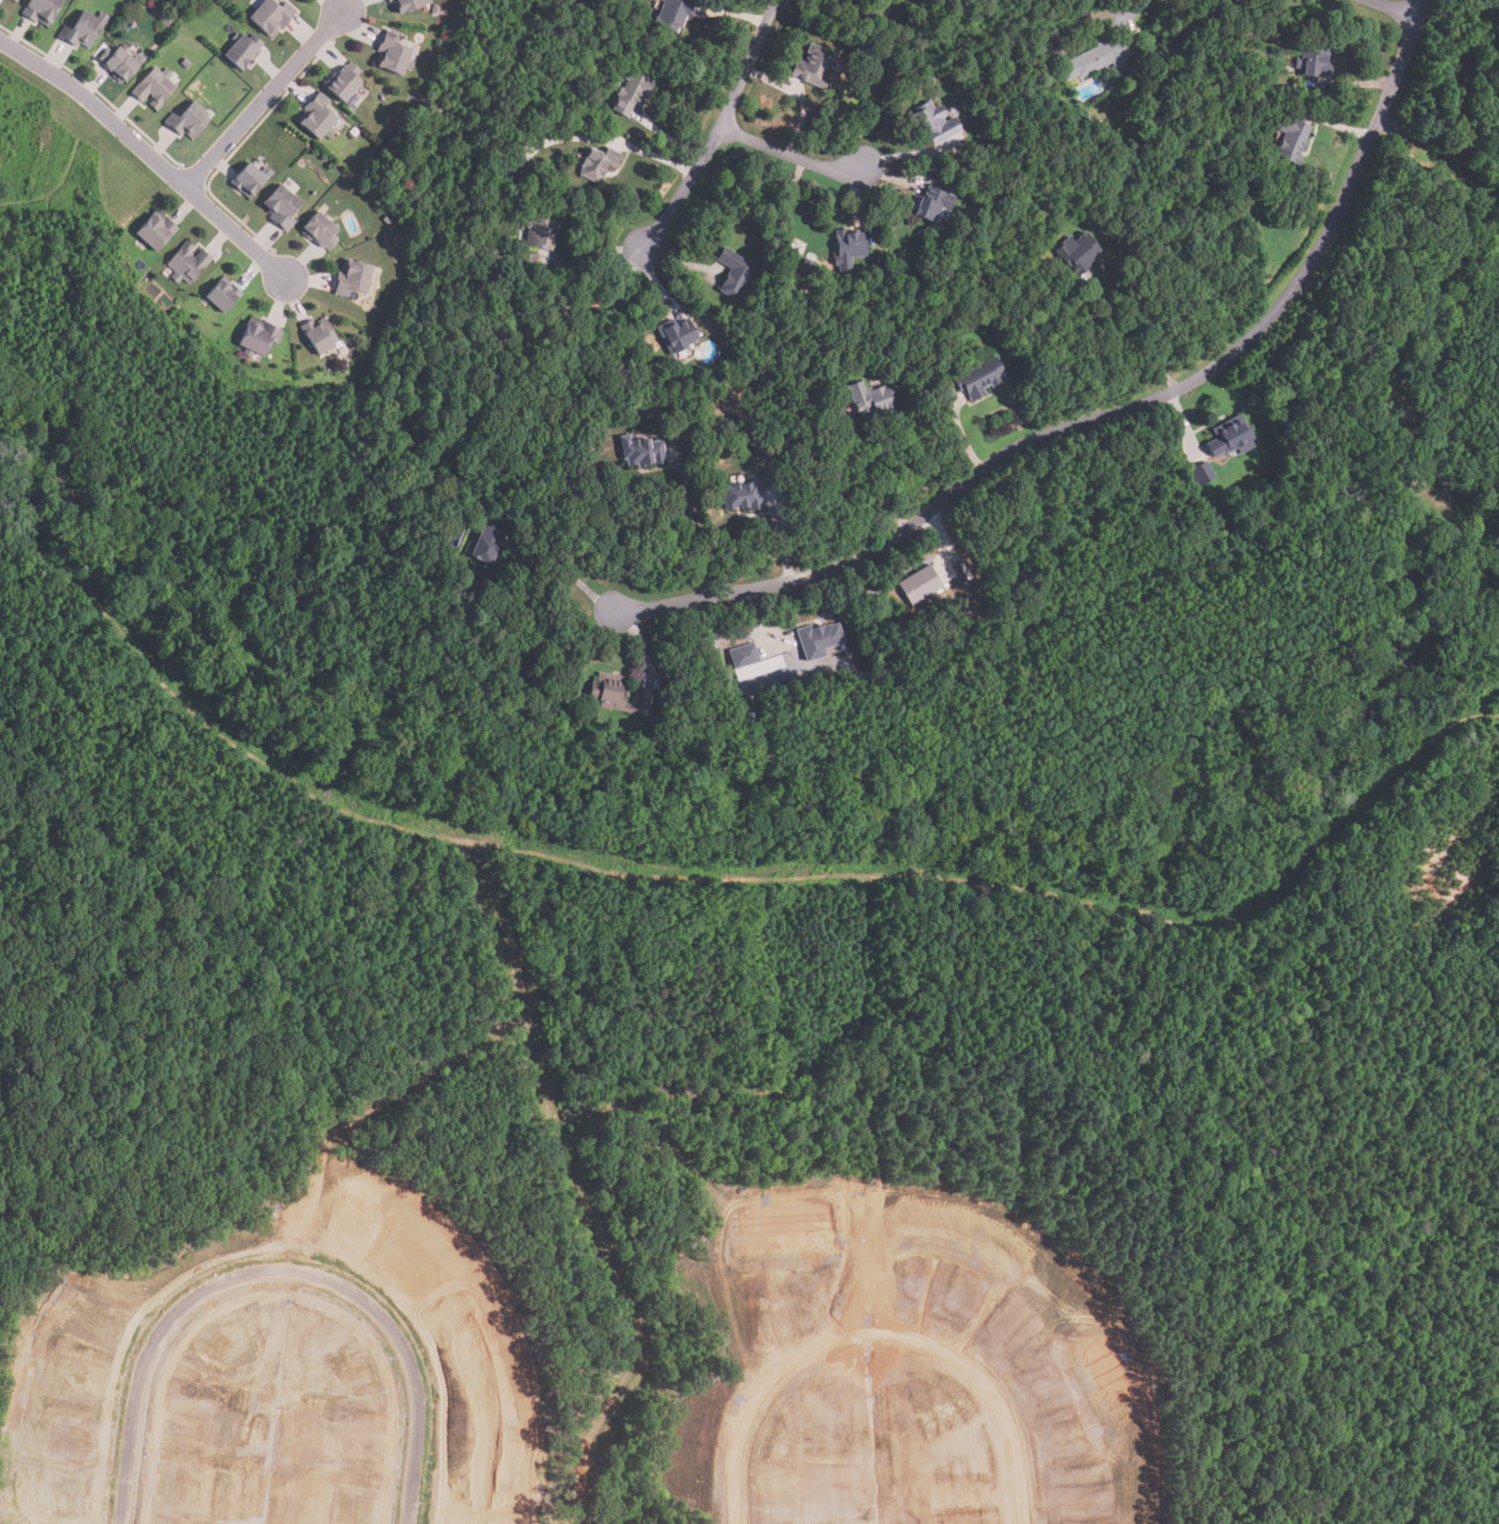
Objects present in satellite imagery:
building: (7, 1)
building: (411, 4)
building: (436, 9)
road: (1394, 9)
building: (41, 10)
building: (674, 13)
building: (272, 15)
road: (1103, 15)
building: (163, 19)
building: (83, 29)
building: (242, 49)
building: (394, 55)
building: (1097, 58)
building: (1315, 59)
building: (121, 61)
building: (185, 62)
building: (817, 66)
building: (928, 76)
building: (344, 81)
building: (154, 86)
building: (1294, 88)
building: (632, 92)
road: (263, 98)
building: (438, 109)
building: (317, 116)
building: (188, 120)
building: (934, 123)
road: (716, 131)
building: (1293, 139)
road: (787, 153)
road: (148, 155)
road: (648, 155)
building: (599, 162)
building: (984, 162)
building: (520, 169)
building: (249, 179)
building: (1001, 197)
building: (934, 203)
building: (282, 207)
building: (388, 218)
building: (321, 230)
building: (155, 231)
building: (541, 232)
building: (849, 248)
building: (1079, 252)
building: (187, 263)
building: (806, 268)
building: (734, 274)
building: (353, 278)
building: (223, 294)
building: (701, 318)
building: (939, 325)
building: (678, 334)
building: (319, 336)
building: (258, 337)
road: (1129, 341)
building: (980, 377)
building: (872, 398)
road: (1113, 415)
building: (1231, 436)
building: (641, 451)
road: (867, 473)
building: (1203, 473)
building: (450, 476)
building: (742, 496)
road: (695, 525)
building: (487, 543)
road: (568, 573)
building: (920, 584)
building: (818, 639)
building: (744, 656)
building: (609, 691)
building: (644, 702)
building: (345, 1234)
building: (413, 1266)
road: (282, 1273)
building: (101, 1317)
building: (458, 1330)
road: (881, 1336)
building: (228, 1341)
building: (346, 1366)
building: (89, 1373)
building: (479, 1395)
building: (180, 1422)
building: (82, 1430)
building: (361, 1439)
building: (473, 1462)
building: (184, 1480)
building: (80, 1496)
building: (356, 1501)
building: (467, 1514)

